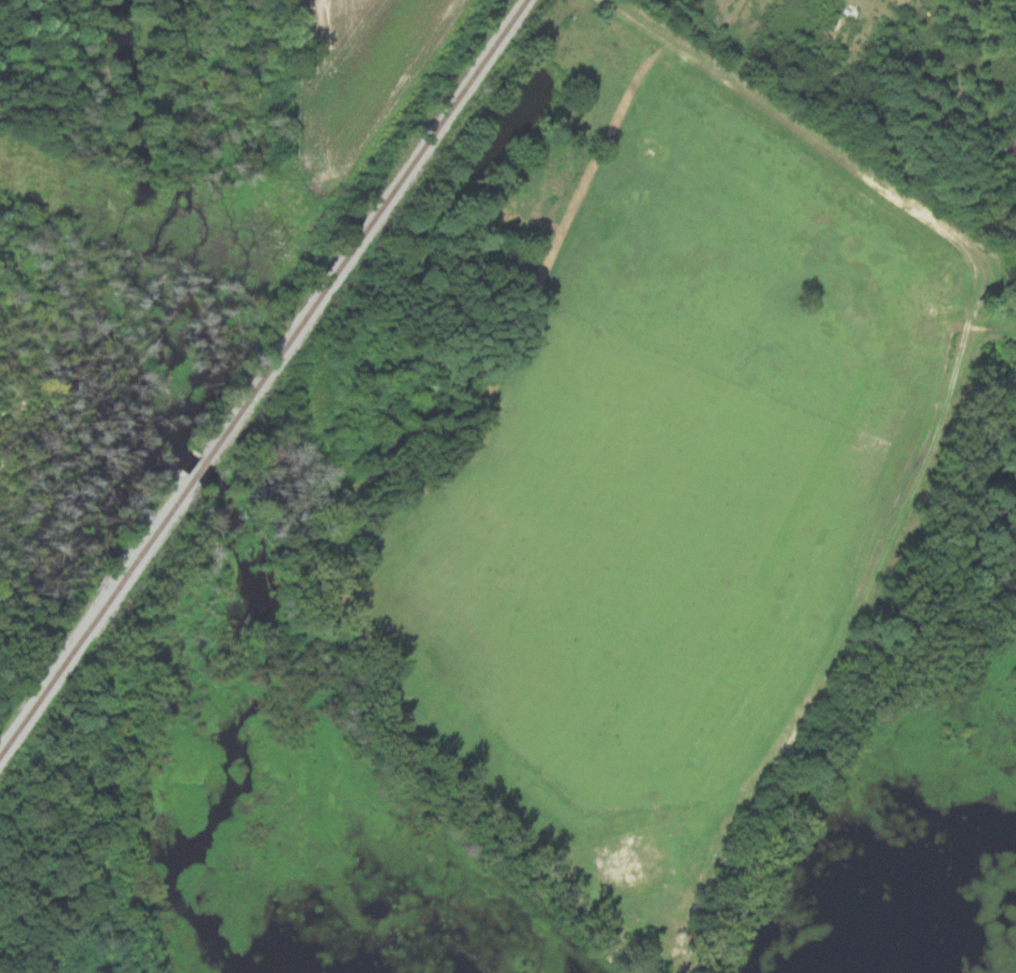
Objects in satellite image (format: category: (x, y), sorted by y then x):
road: (544, 23)
railway: (369, 229)
power tower: (268, 245)
railway: (202, 468)
railway: (97, 617)

